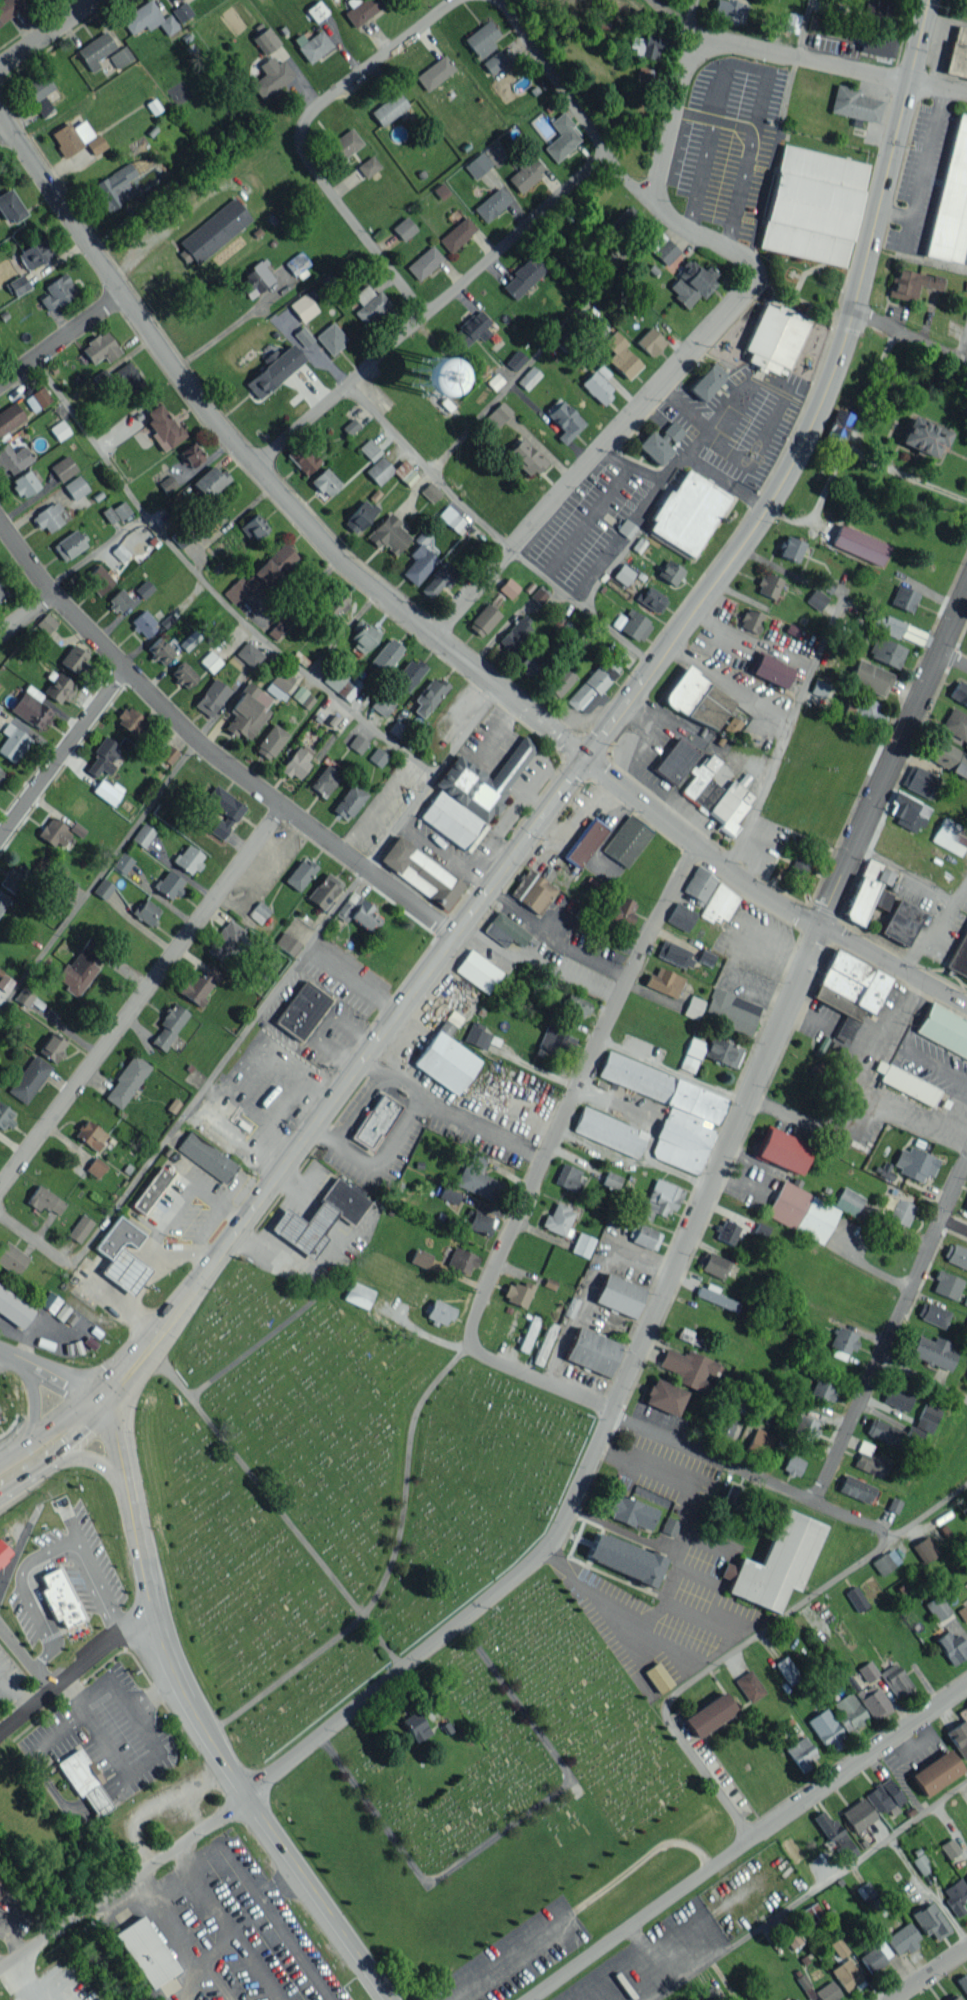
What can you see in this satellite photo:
building: (10, 8)
building: (886, 8)
building: (316, 10)
building: (361, 10)
building: (729, 10)
building: (181, 11)
road: (669, 13)
building: (147, 18)
building: (791, 22)
road: (803, 26)
road: (45, 31)
building: (481, 39)
building: (265, 40)
building: (312, 45)
building: (877, 45)
building: (647, 46)
building: (95, 50)
building: (957, 53)
building: (120, 56)
road: (827, 60)
building: (494, 61)
building: (434, 72)
building: (644, 75)
building: (271, 77)
building: (39, 87)
road: (670, 100)
building: (855, 103)
building: (44, 107)
building: (388, 108)
road: (690, 113)
road: (2, 123)
road: (737, 124)
building: (71, 136)
building: (562, 136)
road: (295, 139)
building: (95, 144)
building: (344, 144)
road: (609, 153)
building: (485, 159)
building: (368, 166)
building: (527, 171)
building: (113, 188)
building: (951, 200)
building: (491, 204)
building: (812, 205)
building: (11, 206)
building: (624, 222)
road: (162, 228)
building: (403, 228)
building: (213, 231)
building: (457, 233)
building: (662, 248)
building: (34, 254)
building: (424, 262)
building: (296, 263)
building: (522, 277)
building: (255, 279)
building: (691, 282)
building: (910, 283)
building: (18, 285)
building: (57, 292)
building: (369, 304)
building: (302, 307)
road: (431, 308)
building: (474, 328)
building: (600, 329)
building: (303, 335)
road: (908, 335)
road: (962, 337)
building: (330, 338)
building: (773, 338)
road: (60, 339)
building: (650, 341)
road: (546, 342)
building: (100, 347)
building: (620, 355)
building: (515, 359)
building: (274, 371)
building: (428, 376)
building: (127, 377)
building: (528, 377)
building: (706, 381)
building: (597, 383)
building: (37, 398)
road: (816, 405)
building: (498, 414)
building: (9, 417)
building: (564, 420)
building: (163, 425)
building: (350, 426)
building: (59, 430)
building: (923, 436)
building: (659, 442)
building: (369, 449)
building: (191, 454)
road: (597, 455)
building: (524, 457)
building: (13, 458)
building: (302, 458)
building: (63, 467)
road: (425, 468)
building: (379, 470)
building: (209, 481)
building: (324, 482)
building: (24, 483)
building: (167, 483)
building: (75, 487)
building: (429, 491)
building: (121, 509)
building: (686, 513)
building: (109, 514)
building: (359, 516)
building: (47, 517)
building: (451, 517)
building: (253, 526)
building: (389, 534)
building: (180, 536)
building: (859, 544)
building: (68, 545)
building: (790, 548)
building: (417, 563)
road: (357, 571)
building: (669, 572)
building: (262, 573)
building: (623, 574)
building: (98, 579)
building: (439, 579)
building: (768, 585)
building: (508, 587)
building: (144, 589)
road: (212, 590)
building: (2, 591)
building: (903, 598)
building: (652, 599)
building: (816, 599)
building: (118, 601)
road: (585, 604)
building: (333, 606)
road: (29, 612)
building: (483, 619)
building: (750, 619)
building: (144, 622)
building: (46, 623)
building: (632, 624)
building: (896, 627)
building: (274, 632)
building: (514, 635)
building: (361, 637)
building: (189, 640)
road: (750, 640)
building: (159, 650)
building: (885, 651)
building: (249, 653)
building: (385, 655)
building: (74, 659)
building: (210, 661)
building: (533, 661)
road: (951, 665)
building: (770, 669)
building: (408, 673)
building: (183, 674)
building: (870, 677)
building: (559, 681)
building: (342, 683)
road: (728, 683)
building: (278, 684)
building: (594, 684)
building: (58, 687)
building: (819, 687)
building: (959, 692)
building: (428, 695)
building: (211, 697)
building: (302, 697)
building: (697, 699)
building: (382, 704)
building: (0, 706)
building: (31, 707)
building: (247, 711)
building: (869, 711)
building: (129, 719)
building: (955, 723)
road: (786, 729)
road: (698, 737)
building: (270, 741)
building: (13, 742)
building: (357, 743)
building: (965, 744)
road: (199, 748)
road: (61, 753)
building: (168, 753)
traffic signals: (583, 754)
road: (892, 755)
building: (103, 756)
building: (377, 756)
building: (949, 758)
building: (674, 761)
building: (296, 762)
building: (1, 773)
building: (324, 780)
building: (921, 781)
building: (107, 791)
building: (472, 794)
building: (717, 795)
building: (348, 801)
building: (223, 809)
building: (908, 811)
building: (55, 832)
building: (142, 834)
building: (950, 836)
building: (626, 841)
building: (584, 842)
building: (188, 858)
building: (122, 862)
building: (799, 865)
road: (96, 871)
building: (420, 872)
building: (300, 873)
building: (883, 875)
building: (13, 878)
road: (966, 878)
building: (699, 883)
building: (169, 884)
building: (64, 887)
building: (103, 888)
building: (324, 891)
building: (533, 891)
building: (865, 893)
building: (3, 900)
building: (719, 903)
building: (145, 911)
building: (258, 911)
building: (357, 911)
building: (620, 912)
building: (680, 916)
building: (901, 922)
road: (932, 923)
building: (505, 930)
building: (224, 939)
building: (287, 943)
building: (674, 954)
building: (959, 956)
building: (705, 957)
building: (80, 967)
road: (892, 967)
building: (477, 970)
building: (211, 974)
road: (285, 976)
building: (5, 982)
building: (664, 982)
building: (194, 988)
building: (849, 990)
building: (23, 996)
road: (140, 997)
building: (576, 1005)
building: (693, 1007)
building: (302, 1010)
building: (731, 1011)
building: (168, 1026)
building: (944, 1028)
building: (477, 1035)
building: (557, 1039)
building: (52, 1046)
building: (722, 1051)
building: (691, 1054)
building: (446, 1062)
building: (817, 1070)
road: (340, 1072)
building: (29, 1078)
building: (126, 1081)
road: (860, 1083)
building: (906, 1083)
road: (571, 1091)
road: (357, 1106)
building: (671, 1109)
road: (630, 1110)
road: (455, 1116)
building: (5, 1117)
building: (376, 1120)
building: (609, 1131)
building: (90, 1134)
building: (781, 1149)
building: (206, 1156)
road: (629, 1159)
building: (915, 1163)
building: (95, 1167)
building: (478, 1177)
building: (570, 1177)
building: (610, 1179)
building: (150, 1190)
building: (449, 1195)
building: (660, 1199)
building: (44, 1200)
building: (848, 1201)
building: (802, 1211)
building: (901, 1211)
building: (319, 1217)
building: (558, 1219)
building: (477, 1222)
road: (953, 1222)
building: (79, 1228)
building: (761, 1229)
building: (727, 1231)
building: (643, 1235)
building: (582, 1244)
building: (955, 1255)
building: (122, 1256)
building: (420, 1257)
building: (11, 1258)
building: (461, 1260)
building: (713, 1264)
road: (866, 1264)
road: (78, 1269)
building: (946, 1284)
road: (591, 1285)
building: (517, 1292)
building: (358, 1294)
building: (618, 1294)
building: (715, 1296)
building: (50, 1302)
building: (14, 1308)
building: (438, 1312)
building: (932, 1313)
road: (890, 1326)
building: (528, 1333)
building: (690, 1337)
building: (843, 1342)
building: (544, 1343)
road: (2, 1351)
building: (591, 1351)
building: (934, 1351)
building: (689, 1368)
road: (51, 1371)
building: (966, 1378)
road: (922, 1379)
building: (821, 1391)
traffic signals: (103, 1394)
building: (664, 1396)
building: (897, 1398)
road: (605, 1415)
building: (927, 1417)
road: (51, 1427)
building: (804, 1427)
building: (725, 1430)
building: (893, 1433)
building: (759, 1442)
road: (683, 1444)
building: (869, 1459)
building: (792, 1465)
building: (856, 1488)
building: (734, 1498)
building: (893, 1505)
road: (931, 1510)
building: (631, 1512)
building: (669, 1526)
road: (622, 1531)
building: (924, 1548)
building: (3, 1553)
road: (34, 1557)
building: (623, 1558)
building: (885, 1561)
building: (775, 1562)
road: (670, 1573)
building: (59, 1597)
building: (856, 1598)
building: (936, 1607)
building: (963, 1612)
park: (393, 1617)
building: (951, 1645)
road: (716, 1667)
road: (75, 1669)
building: (787, 1670)
building: (867, 1670)
building: (657, 1677)
road: (1, 1680)
building: (896, 1680)
building: (749, 1685)
road: (13, 1690)
road: (151, 1691)
building: (874, 1702)
building: (966, 1704)
building: (848, 1711)
building: (708, 1714)
road: (196, 1720)
building: (415, 1726)
building: (825, 1728)
building: (959, 1737)
building: (801, 1753)
road: (146, 1755)
building: (936, 1772)
building: (84, 1780)
building: (885, 1796)
building: (858, 1814)
building: (834, 1834)
road: (750, 1843)
building: (949, 1848)
building: (921, 1863)
building: (966, 1877)
road: (123, 1881)
building: (0, 1887)
road: (811, 1890)
building: (865, 1890)
building: (955, 1896)
building: (811, 1912)
building: (930, 1920)
road: (230, 1922)
road: (171, 1927)
building: (903, 1938)
building: (793, 1939)
building: (838, 1947)
building: (145, 1951)
building: (875, 1956)
road: (209, 1959)
road: (931, 1974)
building: (846, 1975)
road: (31, 1977)
building: (963, 1982)
building: (827, 1991)
building: (708, 1993)
building: (953, 1997)
building: (797, 1998)

